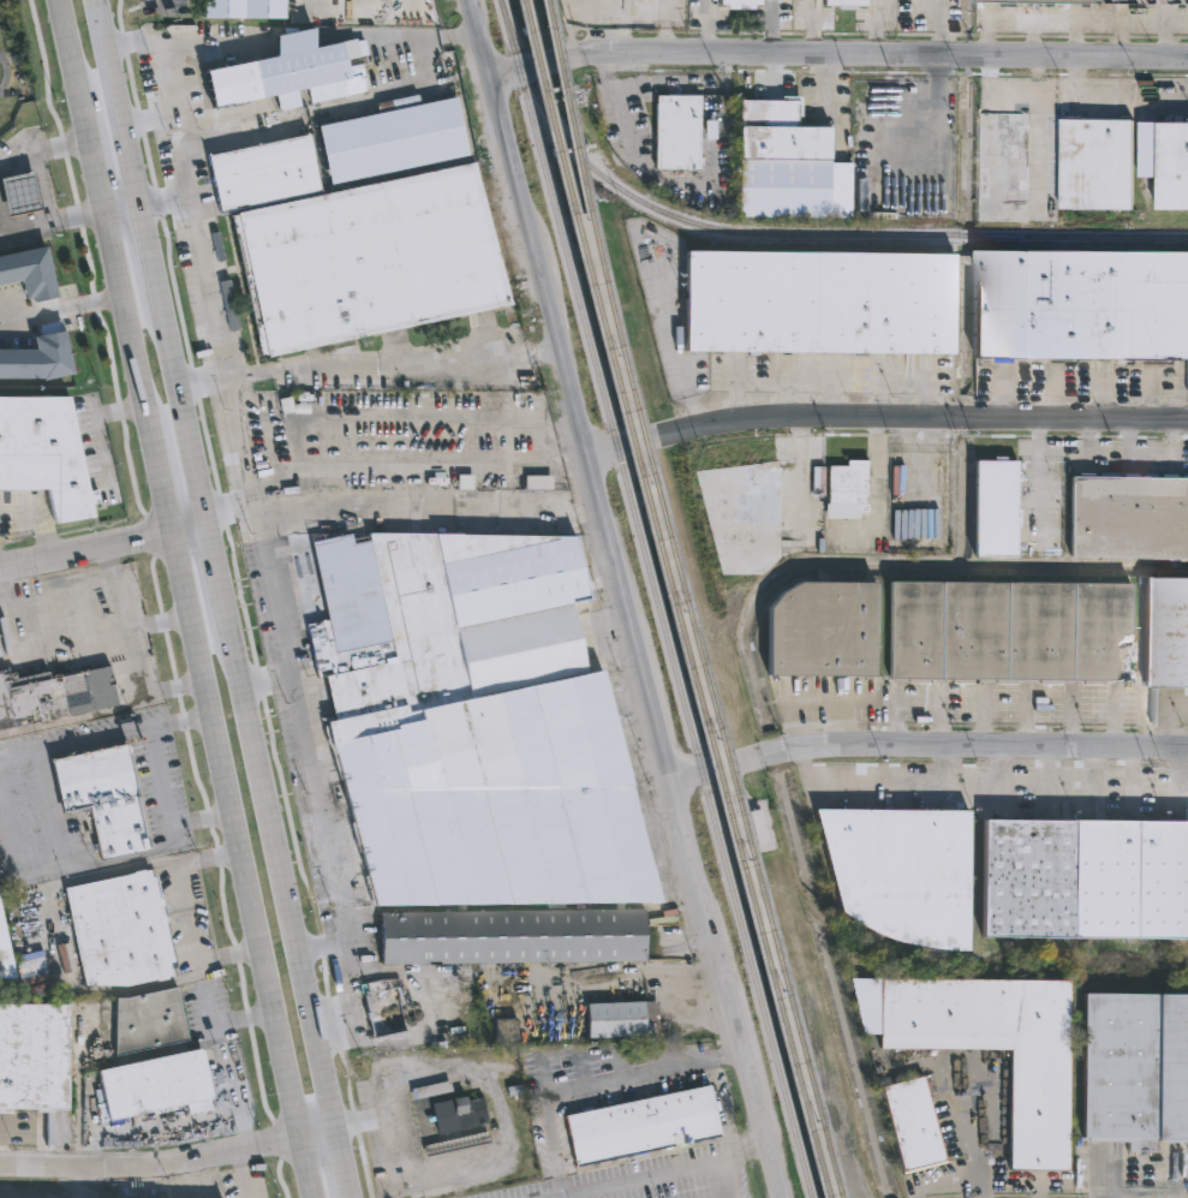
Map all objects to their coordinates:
building: (1098, 0)
building: (740, 4)
building: (844, 5)
road: (118, 8)
building: (240, 8)
road: (32, 14)
road: (438, 37)
road: (838, 55)
road: (73, 56)
park: (12, 66)
building: (286, 74)
road: (5, 77)
road: (115, 99)
road: (149, 119)
building: (294, 121)
building: (680, 132)
building: (419, 135)
road: (46, 151)
building: (344, 151)
road: (97, 160)
building: (1097, 163)
road: (13, 166)
building: (789, 166)
building: (1174, 166)
building: (1003, 168)
building: (263, 173)
road: (43, 186)
road: (19, 193)
building: (20, 193)
road: (166, 193)
road: (124, 202)
road: (54, 217)
road: (25, 219)
railway: (956, 234)
railway: (783, 242)
road: (149, 243)
building: (370, 260)
building: (818, 306)
road: (65, 316)
building: (47, 318)
road: (133, 321)
road: (394, 360)
road: (205, 385)
road: (181, 405)
road: (884, 418)
building: (43, 455)
road: (414, 470)
road: (165, 482)
road: (256, 489)
building: (847, 489)
building: (997, 508)
road: (232, 514)
building: (744, 517)
building: (1129, 517)
road: (189, 525)
road: (85, 549)
road: (216, 571)
road: (60, 594)
road: (625, 598)
railway: (655, 598)
railway: (675, 598)
railway: (688, 600)
road: (2, 606)
road: (159, 624)
building: (823, 627)
building: (1010, 628)
building: (1166, 631)
road: (133, 672)
road: (269, 681)
building: (52, 696)
road: (812, 702)
road: (106, 735)
building: (474, 743)
road: (930, 747)
building: (103, 798)
road: (201, 819)
road: (209, 858)
road: (112, 860)
road: (244, 863)
building: (901, 871)
road: (282, 875)
building: (1085, 877)
road: (186, 912)
building: (119, 930)
road: (49, 946)
road: (229, 953)
building: (4, 959)
road: (395, 971)
railway: (7, 991)
building: (383, 1006)
building: (619, 1019)
building: (147, 1021)
building: (505, 1029)
building: (996, 1048)
building: (32, 1056)
road: (226, 1060)
building: (1135, 1071)
building: (151, 1085)
building: (458, 1114)
building: (912, 1124)
building: (641, 1126)
road: (968, 1133)
building: (456, 1144)
road: (745, 1155)
road: (169, 1163)
road: (342, 1163)
road: (1153, 1169)
road: (243, 1174)
road: (655, 1175)
road: (1171, 1176)
road: (1009, 1179)
road: (931, 1180)
road: (1170, 1191)
road: (1135, 1192)

